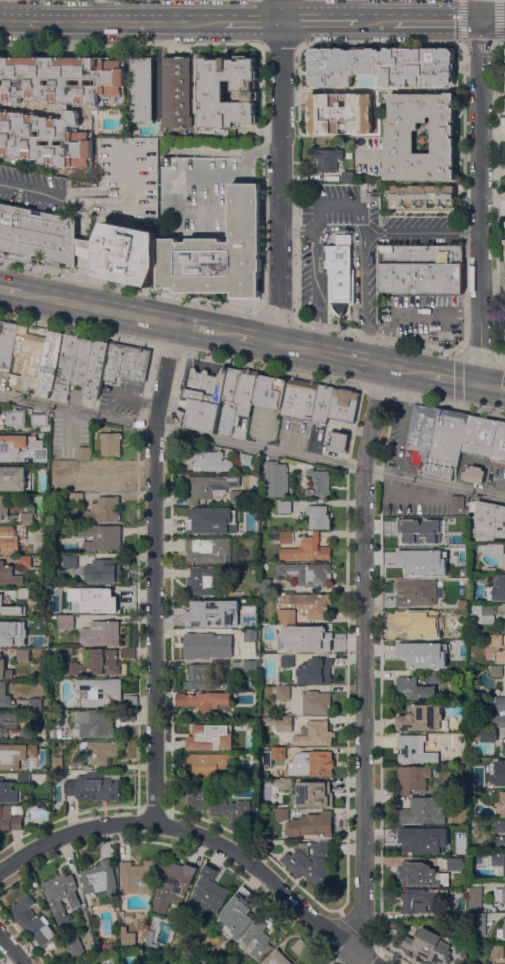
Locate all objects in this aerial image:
road: (437, 20)
traffic signals: (479, 20)
road: (492, 20)
road: (377, 21)
road: (112, 22)
road: (252, 22)
road: (319, 22)
road: (380, 42)
road: (132, 43)
road: (281, 43)
road: (477, 46)
building: (383, 66)
building: (503, 80)
building: (143, 90)
building: (177, 92)
building: (212, 96)
building: (341, 113)
building: (21, 115)
building: (402, 136)
building: (327, 160)
road: (278, 172)
building: (348, 177)
road: (480, 192)
building: (421, 197)
road: (343, 205)
road: (93, 207)
road: (83, 222)
road: (297, 233)
road: (354, 233)
road: (422, 233)
building: (78, 244)
road: (82, 248)
building: (218, 253)
road: (323, 264)
building: (339, 270)
building: (421, 270)
road: (493, 276)
road: (82, 281)
road: (129, 285)
road: (322, 285)
road: (9, 291)
road: (96, 308)
road: (413, 313)
road: (275, 316)
road: (189, 328)
road: (76, 330)
road: (220, 334)
road: (376, 337)
road: (252, 340)
building: (7, 343)
road: (166, 347)
road: (458, 358)
road: (349, 359)
building: (27, 360)
road: (500, 360)
building: (126, 362)
building: (50, 364)
building: (80, 365)
road: (271, 370)
road: (453, 379)
traffic signals: (478, 384)
building: (232, 385)
road: (491, 386)
road: (376, 390)
building: (246, 392)
building: (270, 392)
building: (204, 398)
building: (300, 400)
road: (447, 403)
building: (322, 405)
building: (343, 405)
building: (16, 418)
building: (40, 421)
building: (225, 424)
building: (477, 436)
building: (29, 437)
building: (436, 438)
building: (34, 442)
building: (339, 442)
building: (6, 444)
building: (111, 444)
building: (498, 444)
road: (252, 446)
building: (84, 453)
building: (40, 454)
building: (209, 461)
building: (247, 461)
building: (85, 467)
building: (474, 474)
building: (109, 477)
building: (14, 478)
building: (276, 479)
building: (319, 484)
building: (210, 487)
building: (75, 488)
building: (237, 496)
building: (76, 498)
building: (457, 502)
building: (3, 506)
building: (285, 507)
building: (236, 509)
building: (102, 511)
building: (203, 517)
building: (318, 517)
building: (27, 518)
building: (488, 520)
building: (438, 524)
building: (238, 529)
building: (409, 534)
building: (101, 537)
building: (286, 537)
building: (10, 539)
building: (495, 548)
building: (209, 550)
building: (307, 550)
building: (463, 551)
building: (262, 557)
building: (70, 561)
building: (25, 562)
building: (419, 562)
building: (504, 562)
building: (103, 571)
road: (153, 572)
building: (307, 573)
building: (9, 576)
building: (202, 582)
building: (265, 585)
building: (497, 587)
building: (79, 591)
building: (23, 593)
building: (417, 593)
building: (105, 601)
building: (463, 603)
building: (312, 605)
building: (11, 609)
building: (206, 610)
building: (487, 614)
building: (286, 616)
building: (237, 621)
building: (421, 622)
building: (67, 623)
building: (504, 626)
building: (2, 633)
building: (101, 633)
building: (250, 635)
building: (318, 636)
building: (495, 641)
building: (290, 645)
building: (198, 646)
building: (454, 646)
building: (128, 652)
building: (24, 655)
building: (499, 655)
building: (418, 656)
road: (364, 658)
building: (287, 661)
building: (97, 663)
building: (251, 666)
building: (5, 669)
building: (315, 671)
building: (495, 671)
building: (433, 677)
building: (205, 678)
building: (414, 689)
building: (101, 691)
building: (283, 692)
building: (5, 696)
building: (204, 700)
building: (316, 702)
building: (500, 703)
building: (36, 706)
building: (422, 718)
building: (499, 720)
building: (8, 723)
building: (97, 723)
building: (279, 723)
building: (57, 733)
building: (214, 734)
building: (314, 734)
building: (488, 735)
building: (24, 736)
building: (504, 746)
building: (414, 749)
building: (100, 752)
building: (278, 753)
building: (17, 756)
building: (56, 763)
building: (311, 764)
building: (207, 765)
building: (484, 766)
building: (243, 776)
building: (412, 778)
building: (24, 779)
building: (503, 781)
building: (284, 784)
building: (462, 786)
building: (95, 787)
building: (8, 792)
building: (313, 794)
building: (502, 804)
building: (218, 805)
building: (424, 811)
building: (281, 814)
building: (11, 817)
building: (310, 825)
building: (499, 826)
road: (190, 832)
building: (444, 832)
building: (499, 842)
building: (414, 844)
building: (498, 860)
building: (311, 863)
building: (456, 864)
building: (421, 875)
building: (137, 877)
building: (99, 879)
building: (172, 886)
building: (208, 894)
building: (61, 897)
building: (501, 897)
building: (475, 899)
building: (418, 900)
building: (239, 915)
building: (32, 921)
building: (478, 925)
building: (504, 928)
building: (127, 937)
building: (259, 940)
building: (427, 946)
building: (74, 947)
building: (300, 947)
road: (11, 949)
building: (497, 951)
building: (460, 953)
building: (277, 958)
road: (358, 958)
building: (303, 963)

